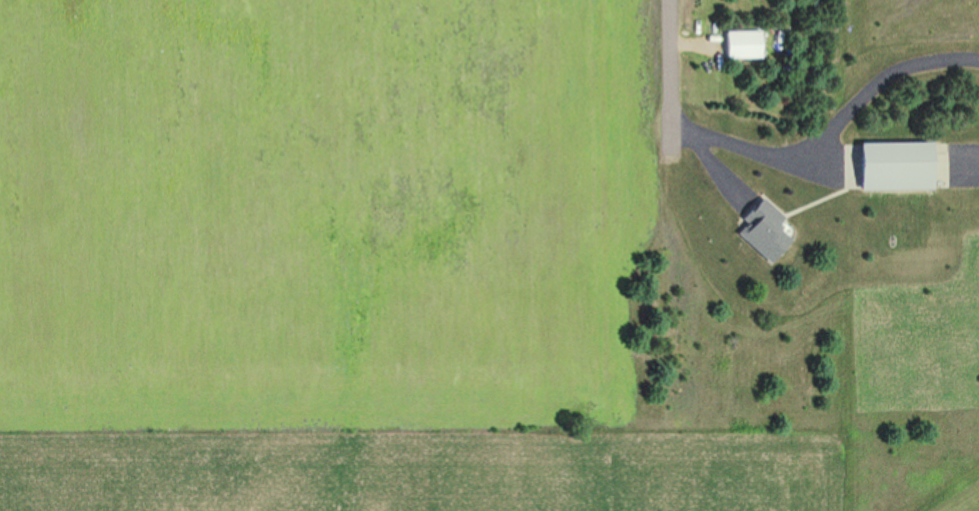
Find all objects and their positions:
building: (742, 44)
road: (670, 75)
road: (832, 132)
road: (720, 160)
building: (890, 165)
crop: (331, 213)
building: (769, 213)
building: (763, 238)
road: (384, 437)
airport: (509, 466)
road: (425, 474)

